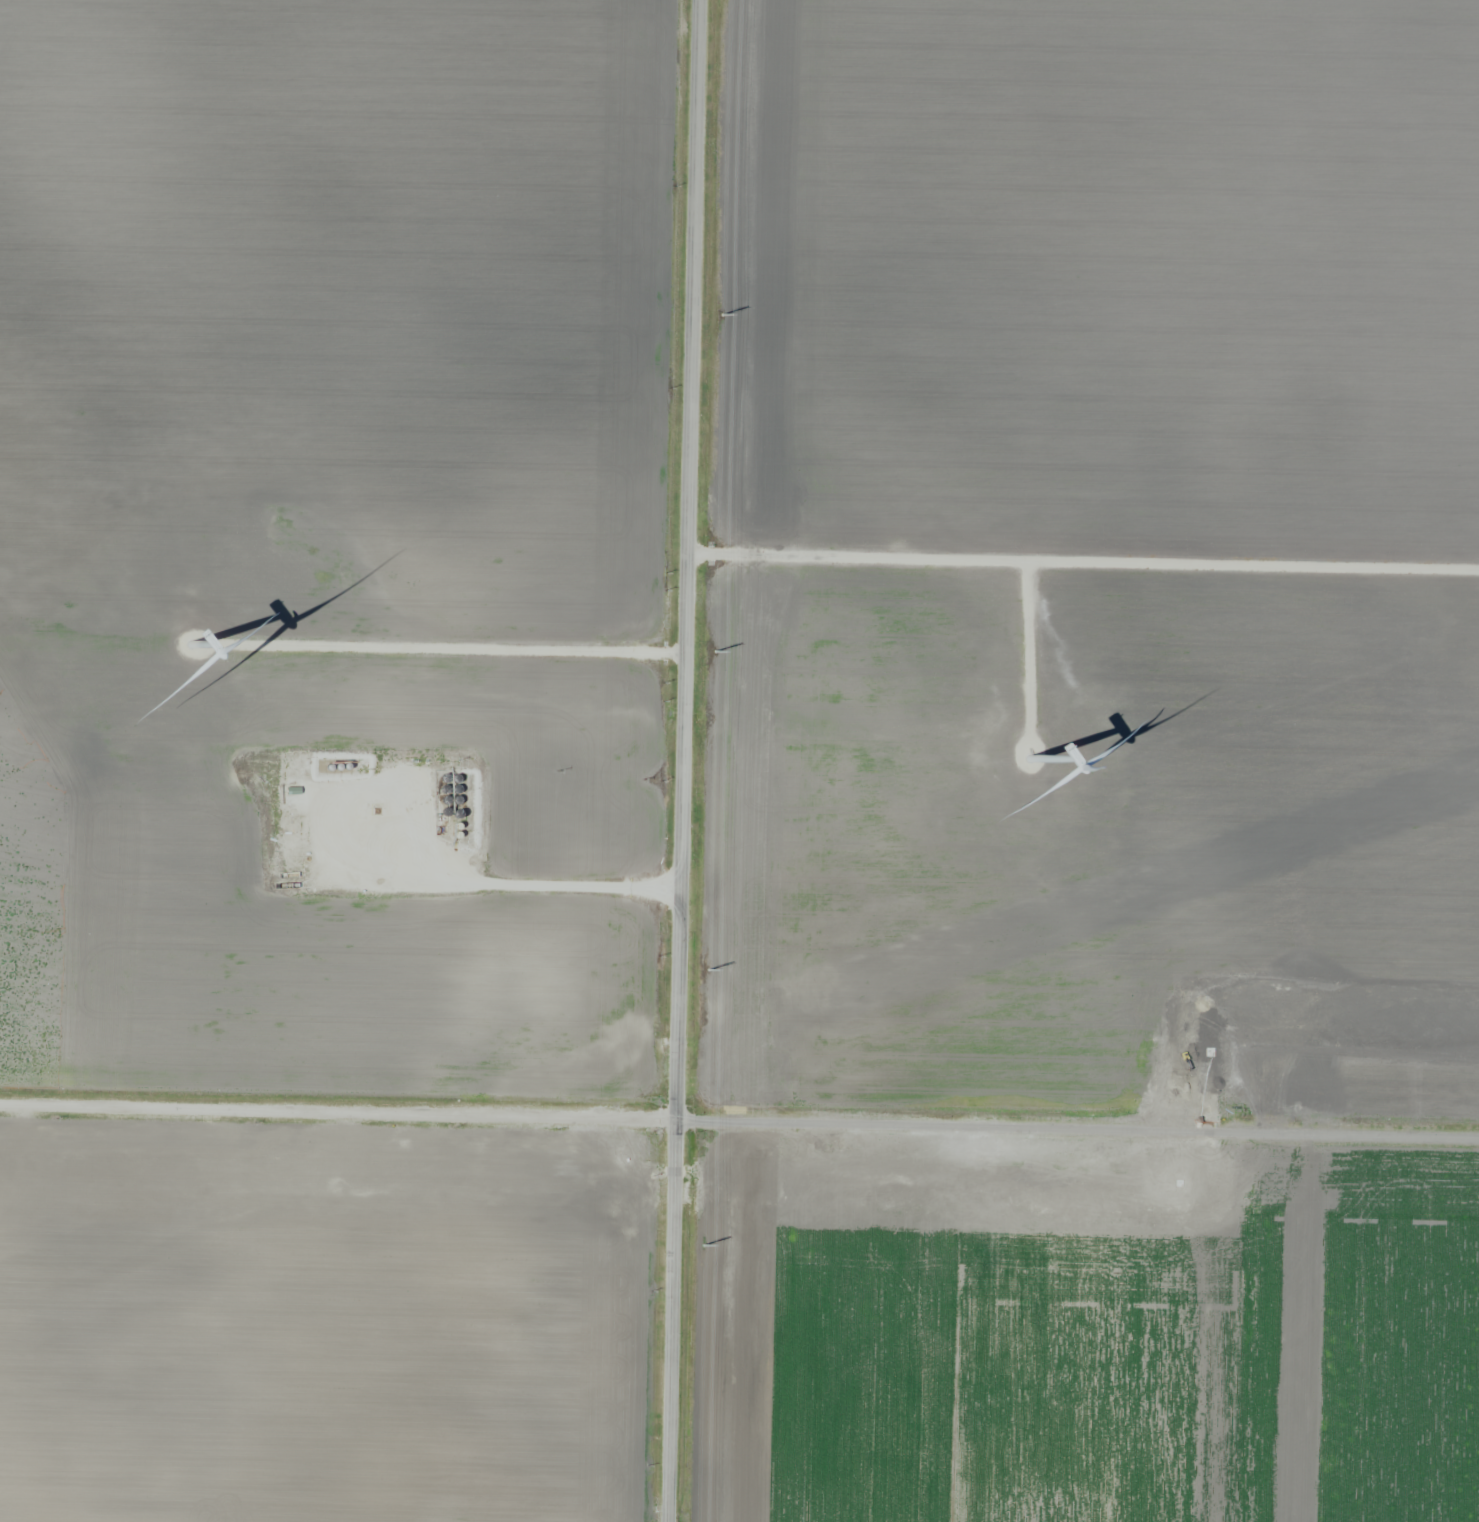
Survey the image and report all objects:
power tower: (720, 315)
wind turbine: (193, 641)
power tower: (712, 654)
wind turbine: (1026, 755)
road: (685, 761)
road: (476, 886)
power tower: (707, 971)
road: (739, 1120)
power tower: (704, 1244)

